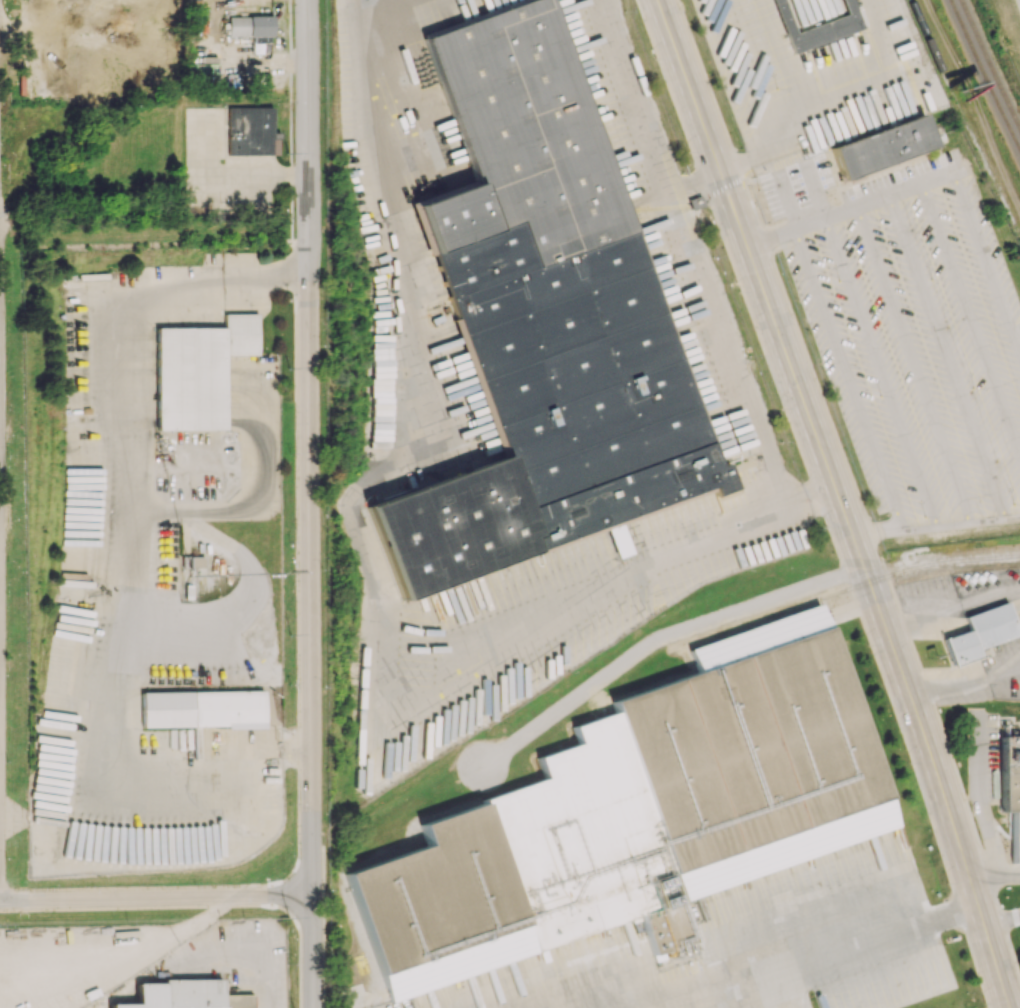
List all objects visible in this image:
building: (250, 25)
railway: (991, 61)
railway: (986, 72)
road: (628, 95)
railway: (962, 122)
building: (251, 131)
building: (882, 146)
road: (815, 189)
road: (873, 198)
road: (785, 199)
road: (771, 236)
road: (986, 257)
road: (971, 318)
building: (542, 319)
parking lot: (911, 334)
road: (723, 345)
road: (946, 355)
road: (913, 363)
road: (879, 370)
building: (198, 371)
road: (847, 377)
road: (840, 501)
road: (308, 503)
road: (960, 521)
road: (876, 528)
road: (123, 541)
building: (196, 561)
railway: (833, 595)
road: (953, 609)
building: (980, 633)
road: (658, 634)
road: (965, 681)
building: (202, 709)
building: (1011, 789)
building: (637, 815)
road: (993, 871)
road: (155, 897)
road: (833, 958)
road: (264, 973)
building: (186, 995)
road: (762, 996)

